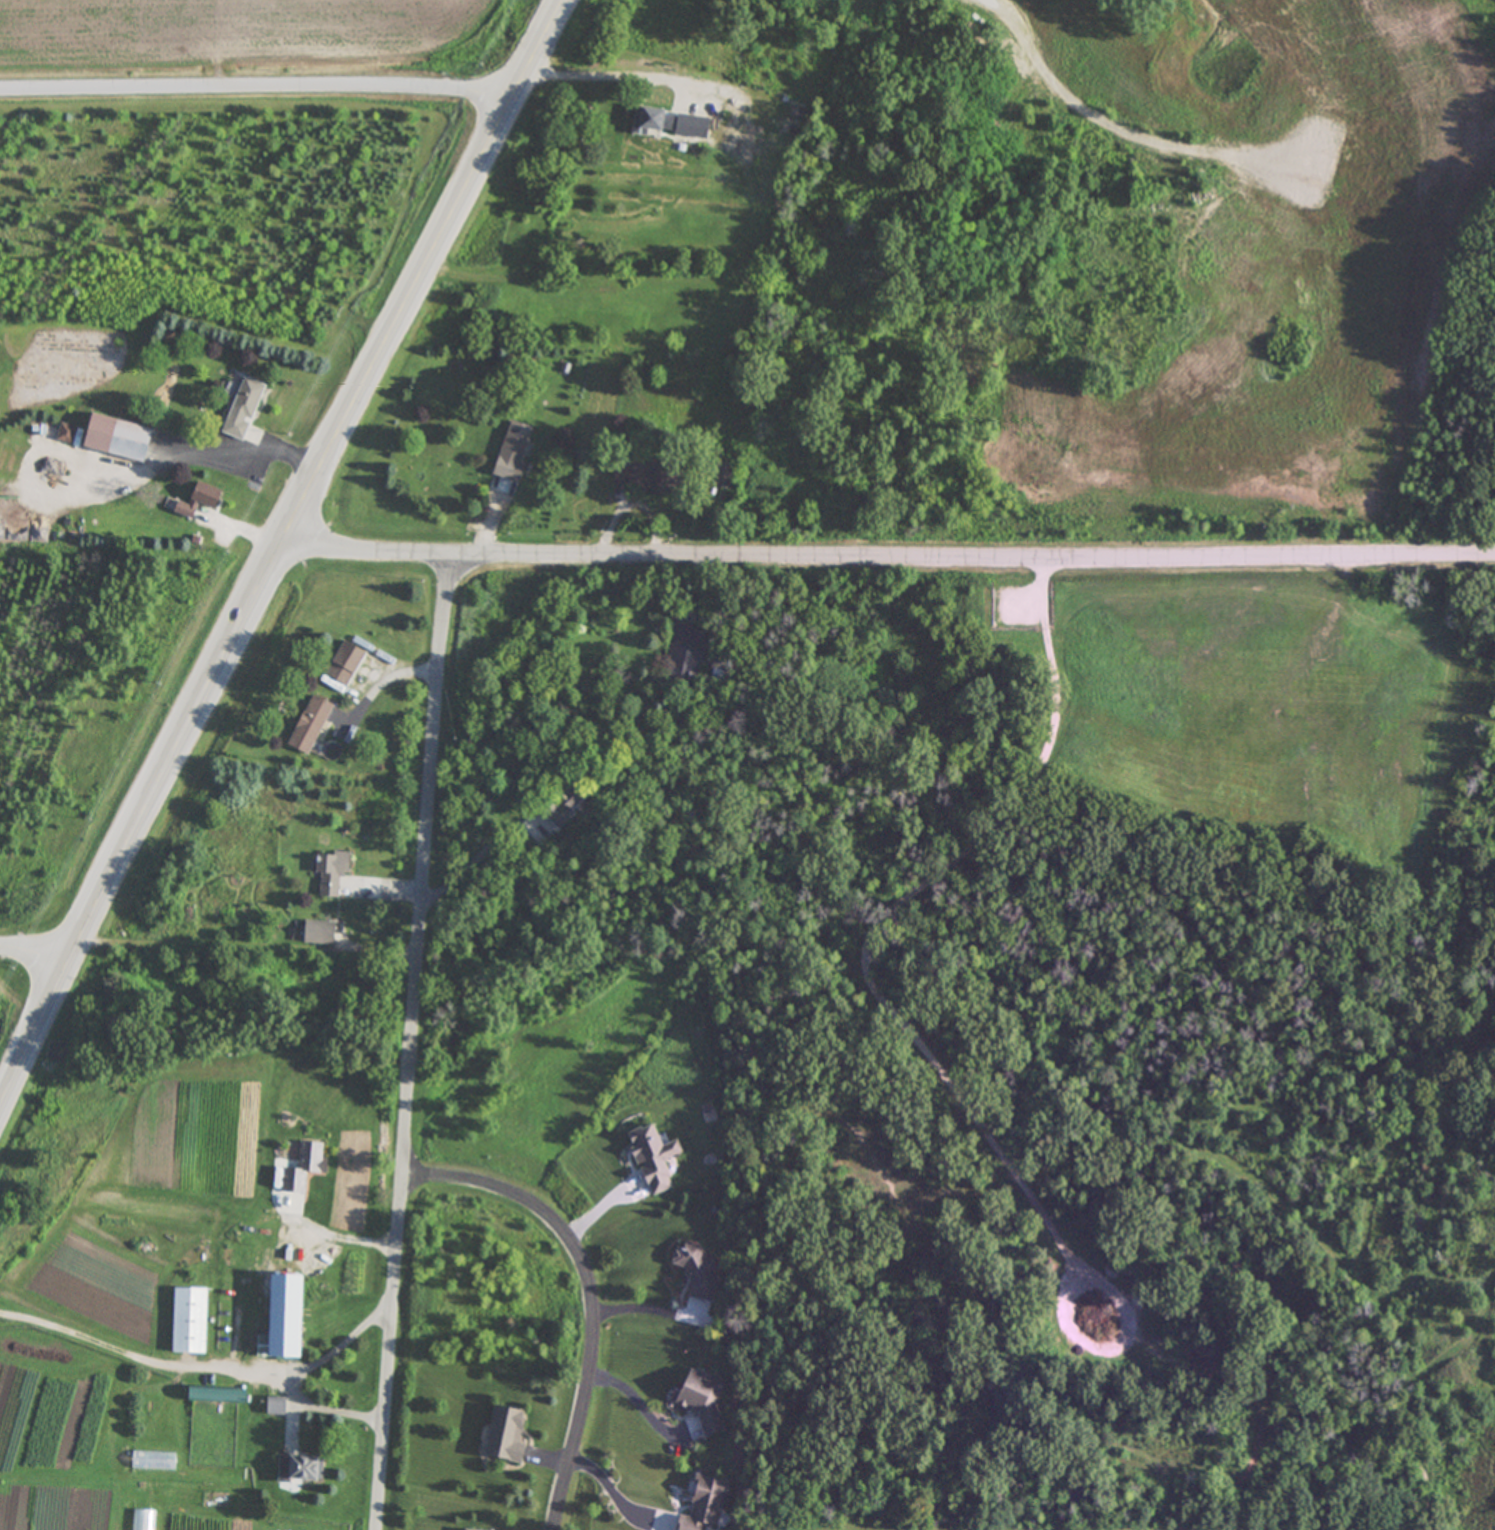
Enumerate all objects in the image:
building: (763, 62)
road: (607, 76)
road: (256, 96)
building: (647, 121)
building: (721, 124)
building: (240, 410)
building: (104, 438)
building: (510, 453)
building: (640, 476)
building: (724, 476)
building: (192, 502)
road: (276, 554)
road: (886, 554)
building: (342, 664)
building: (681, 666)
road: (386, 678)
building: (306, 725)
building: (561, 805)
building: (329, 871)
building: (317, 933)
road: (204, 940)
road: (36, 961)
road: (413, 1043)
park: (1125, 1045)
road: (606, 1200)
road: (331, 1229)
building: (696, 1269)
road: (589, 1290)
road: (648, 1306)
building: (276, 1316)
building: (185, 1321)
road: (204, 1363)
road: (635, 1397)
building: (695, 1400)
road: (330, 1405)
building: (272, 1406)
building: (500, 1435)
building: (295, 1469)
road: (617, 1498)
building: (215, 1500)
building: (699, 1505)
building: (143, 1520)

